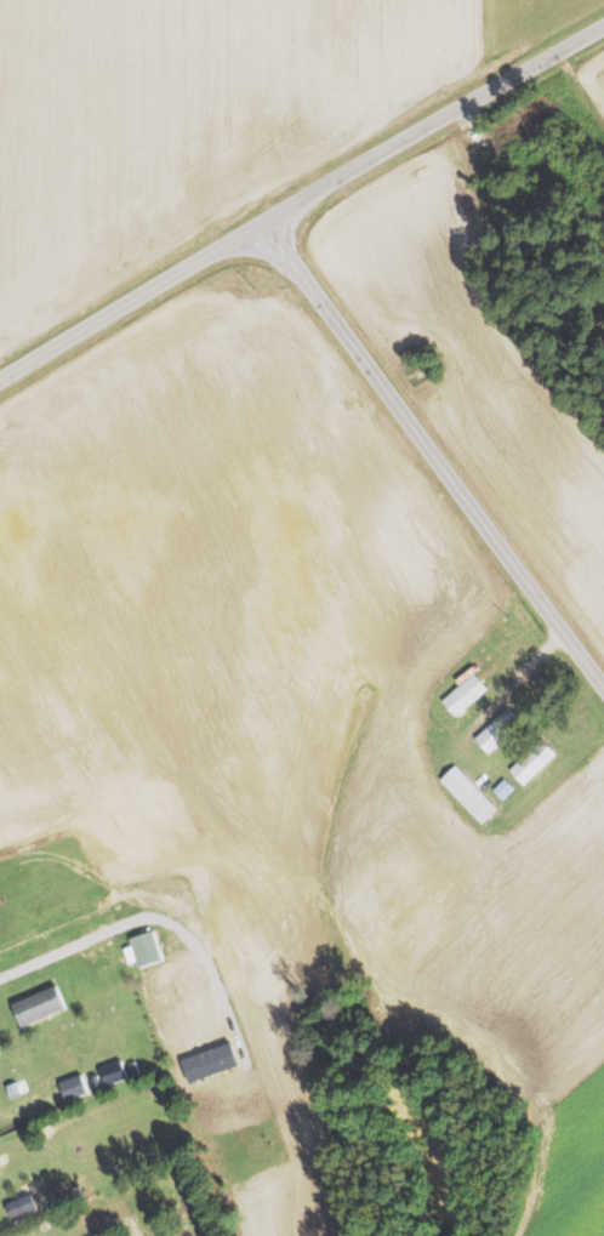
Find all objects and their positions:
crop: (593, 78)
crop: (187, 123)
road: (300, 201)
park: (418, 364)
crop: (478, 366)
road: (434, 455)
road: (540, 655)
building: (461, 694)
building: (483, 713)
crop: (285, 724)
building: (496, 730)
building: (530, 762)
building: (506, 787)
building: (466, 794)
building: (148, 950)
building: (45, 1004)
building: (114, 1072)
building: (97, 1082)
building: (74, 1088)
building: (17, 1089)
building: (23, 1206)

